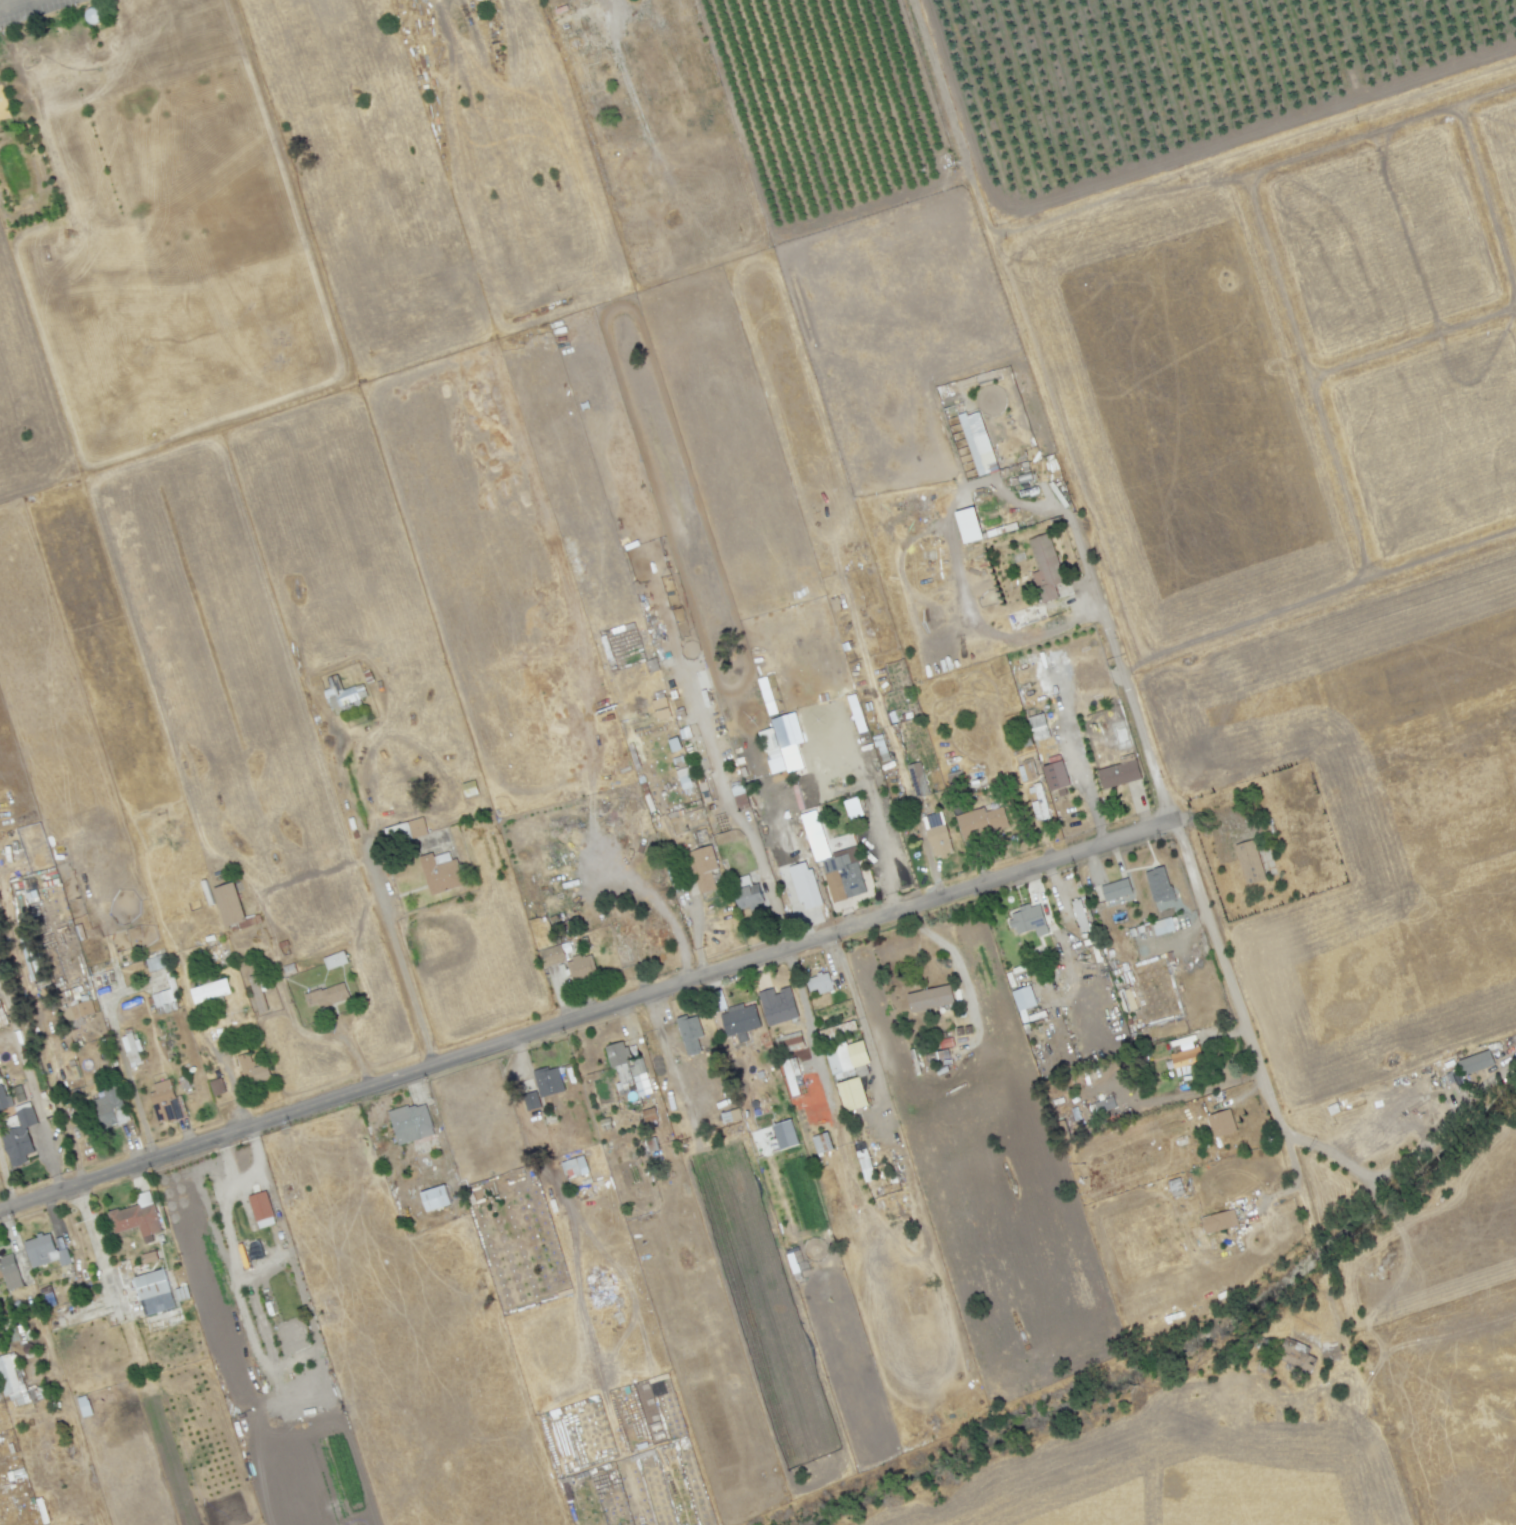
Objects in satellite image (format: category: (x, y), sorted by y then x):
road: (14, 4)
railway: (1466, 257)
building: (977, 442)
building: (968, 525)
building: (1044, 567)
road: (1119, 671)
building: (347, 697)
building: (660, 708)
building: (1037, 727)
building: (792, 742)
building: (1033, 769)
building: (1025, 773)
building: (1120, 774)
building: (683, 778)
building: (1055, 778)
building: (919, 781)
building: (1074, 784)
building: (1041, 805)
building: (852, 808)
road: (872, 813)
road: (736, 818)
building: (982, 823)
building: (1266, 830)
building: (405, 831)
building: (938, 836)
building: (1251, 865)
building: (704, 870)
building: (847, 876)
building: (441, 877)
building: (1160, 886)
building: (1117, 891)
building: (802, 892)
building: (748, 895)
building: (228, 904)
building: (1079, 915)
building: (1028, 920)
building: (1164, 928)
road: (1174, 942)
building: (551, 955)
building: (334, 960)
road: (956, 961)
building: (160, 964)
building: (580, 967)
road: (406, 981)
building: (821, 984)
building: (215, 993)
building: (326, 995)
building: (1023, 997)
building: (931, 1001)
building: (168, 1004)
building: (777, 1005)
building: (76, 1010)
building: (4, 1014)
road: (587, 1017)
building: (743, 1024)
building: (689, 1037)
building: (789, 1042)
building: (1184, 1051)
building: (136, 1053)
building: (617, 1056)
building: (1475, 1062)
building: (841, 1063)
building: (257, 1073)
building: (792, 1076)
building: (624, 1078)
building: (642, 1082)
building: (187, 1083)
building: (549, 1083)
building: (222, 1089)
building: (851, 1094)
building: (672, 1099)
road: (1168, 1099)
building: (6, 1101)
building: (532, 1103)
building: (167, 1104)
building: (115, 1109)
road: (39, 1112)
road: (1275, 1113)
building: (731, 1118)
building: (414, 1123)
building: (1220, 1123)
building: (784, 1134)
building: (24, 1139)
building: (864, 1165)
building: (575, 1169)
building: (439, 1197)
building: (265, 1205)
building: (136, 1217)
building: (1218, 1221)
building: (54, 1248)
building: (10, 1263)
building: (153, 1292)
building: (21, 1382)
building: (89, 1405)

